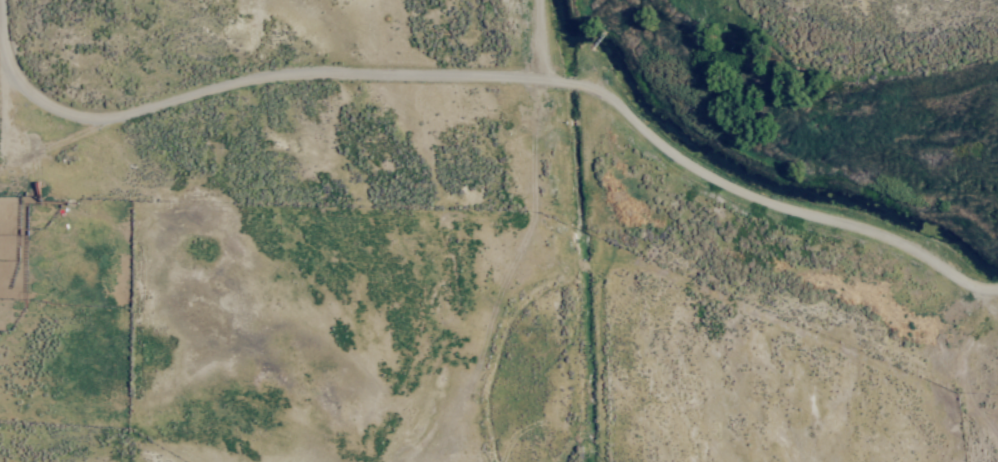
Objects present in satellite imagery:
road: (524, 38)
road: (480, 74)

